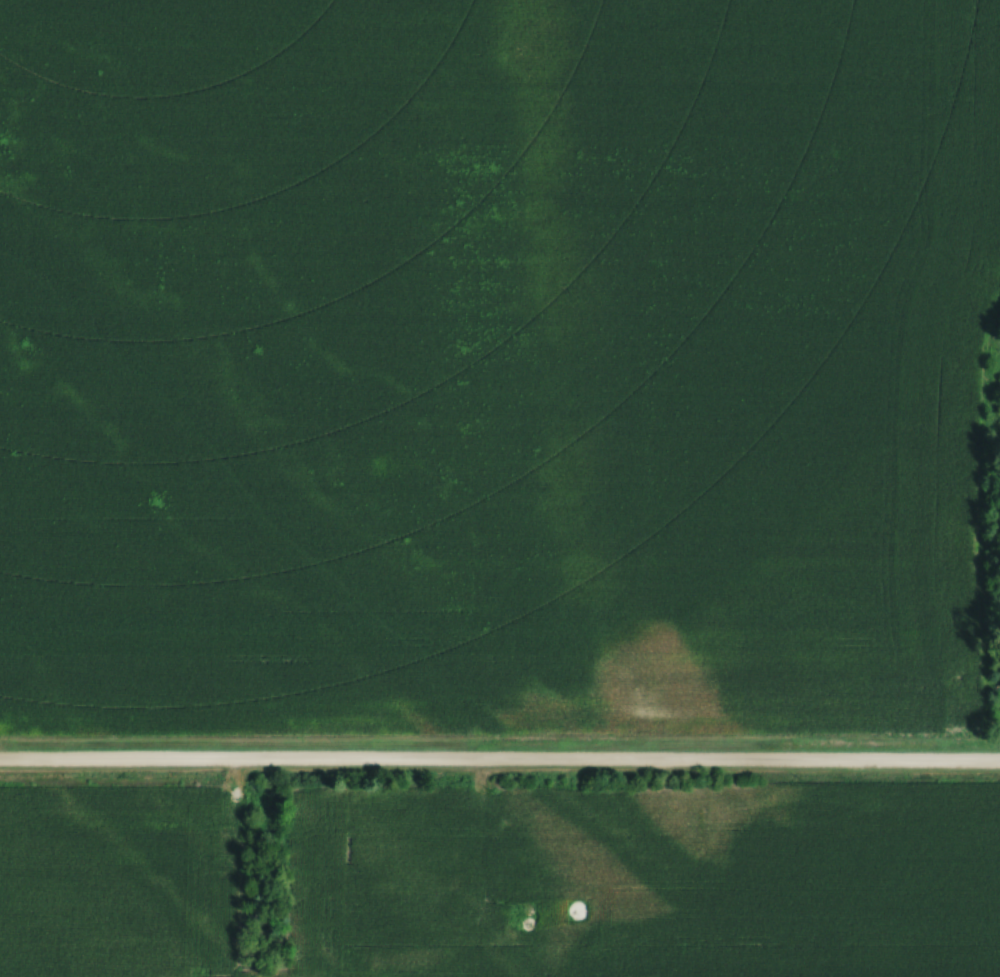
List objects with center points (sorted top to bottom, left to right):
road: (500, 766)
building: (581, 909)

